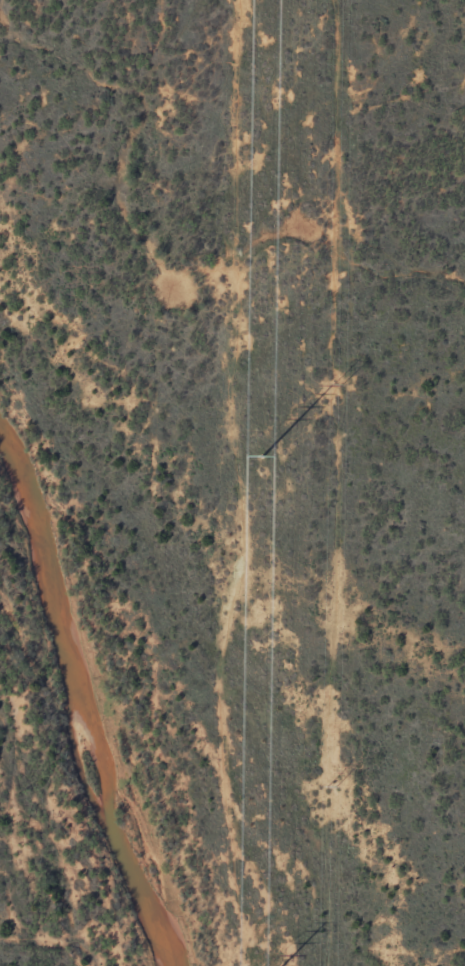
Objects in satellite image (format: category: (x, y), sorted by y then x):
power tower: (337, 381)
power tower: (263, 456)
river: (77, 695)
power tower: (332, 784)

